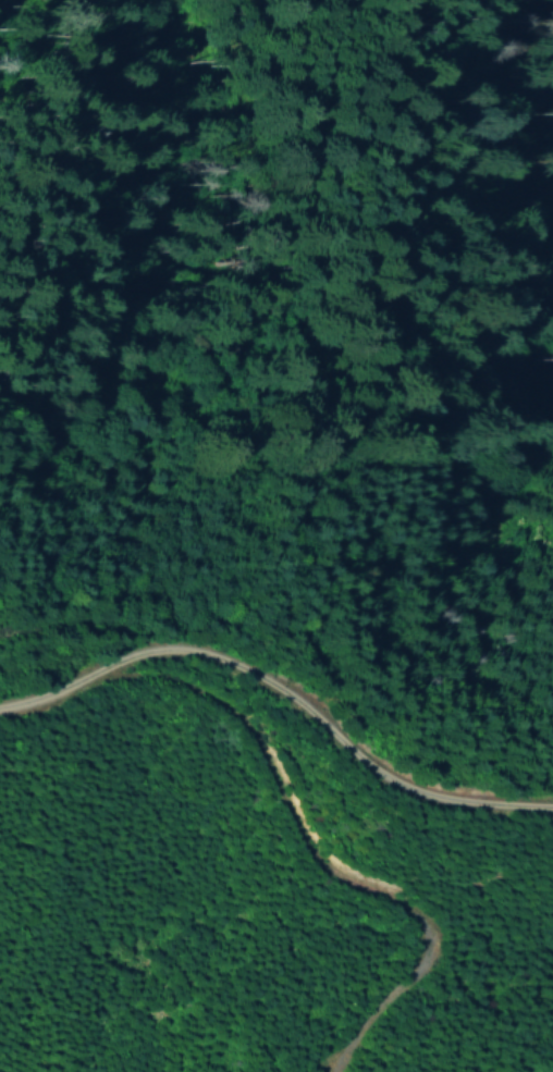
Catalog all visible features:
road: (281, 702)
road: (305, 855)

